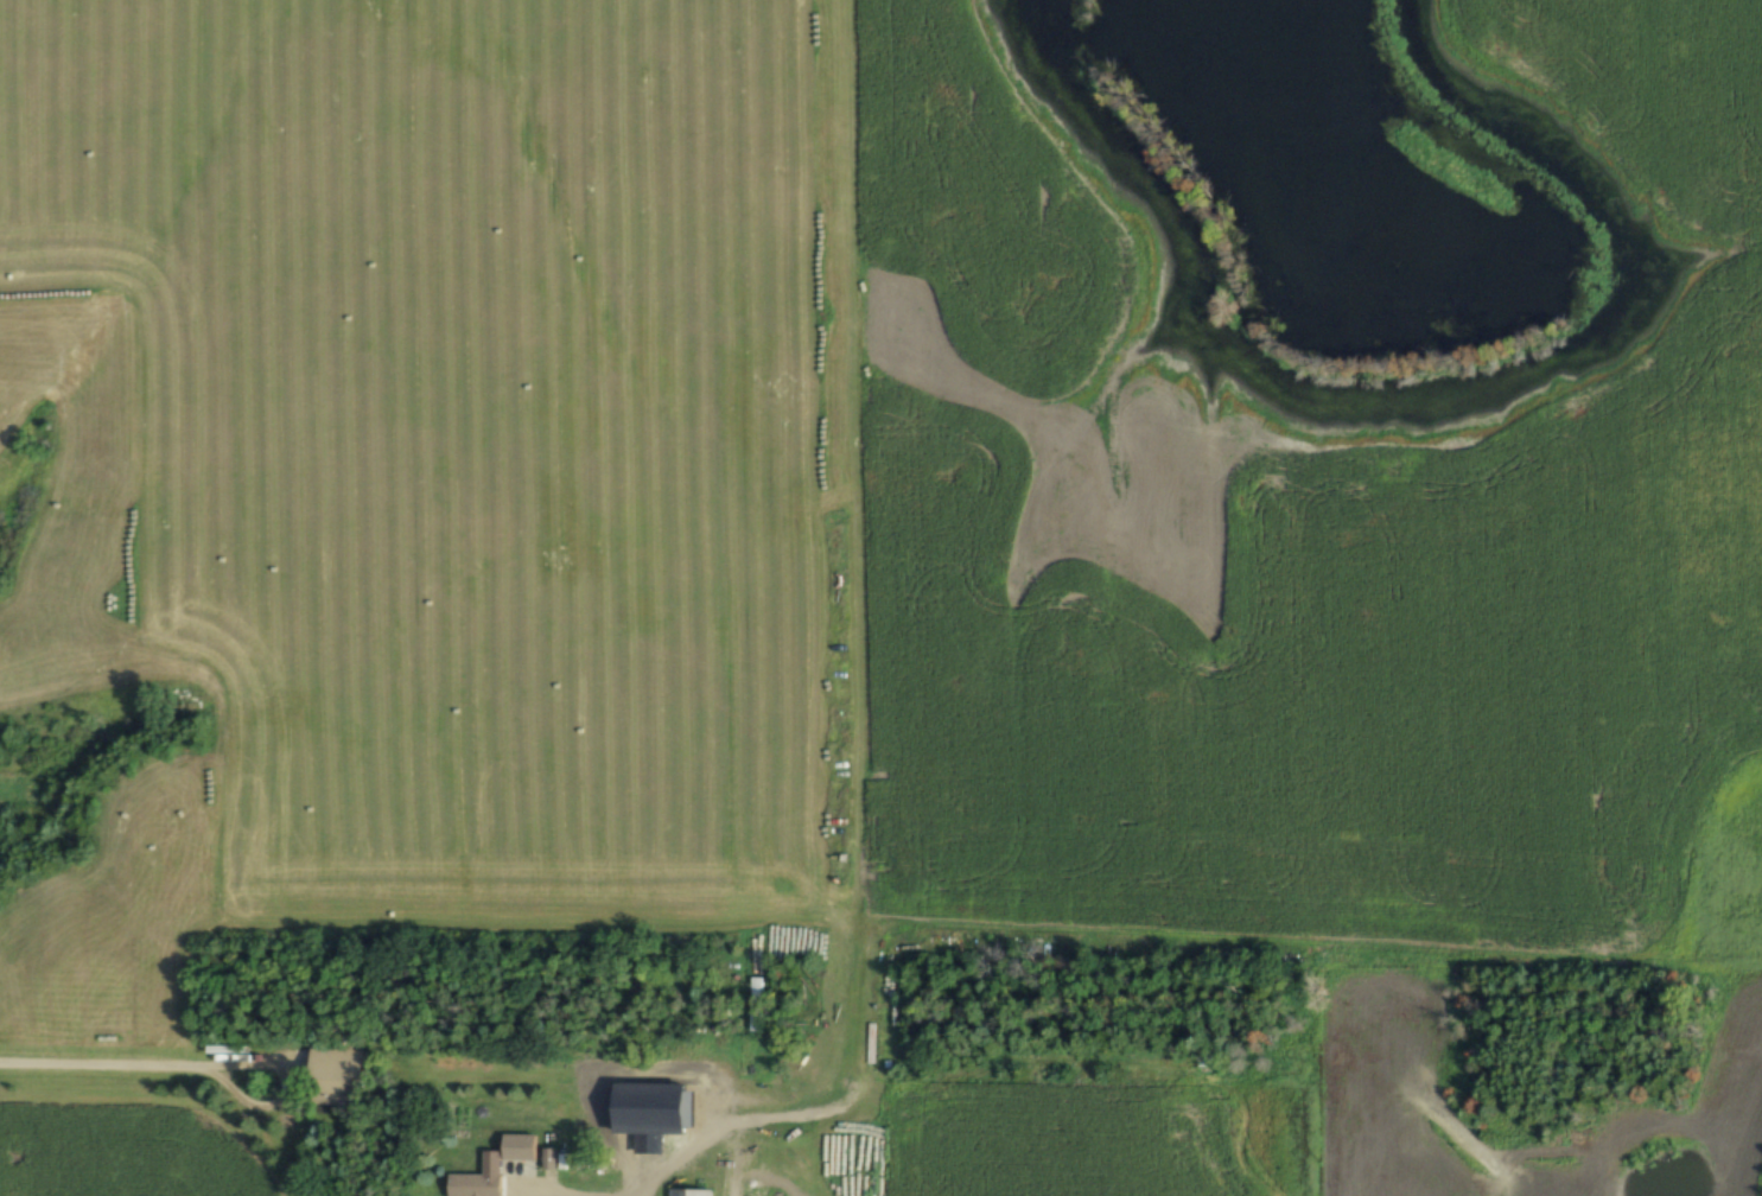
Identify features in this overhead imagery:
building: (758, 1003)
road: (146, 1057)
building: (344, 1068)
building: (523, 1145)
road: (545, 1176)
building: (478, 1184)
building: (693, 1191)

